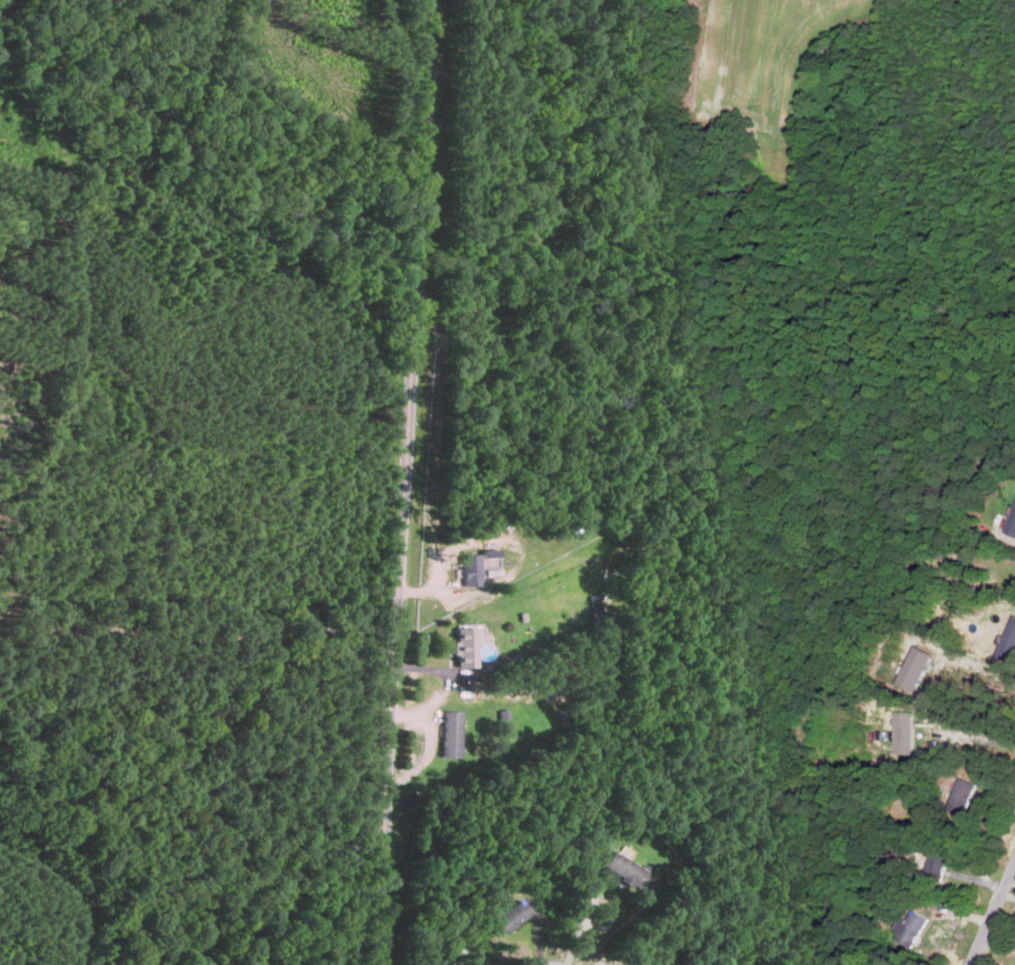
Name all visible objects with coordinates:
road: (406, 482)
building: (1011, 523)
road: (1008, 537)
building: (491, 560)
building: (470, 570)
building: (462, 647)
road: (979, 670)
building: (904, 730)
building: (450, 734)
road: (981, 735)
building: (961, 796)
building: (936, 866)
building: (624, 870)
road: (993, 915)
building: (511, 917)
road: (579, 920)
building: (913, 928)

